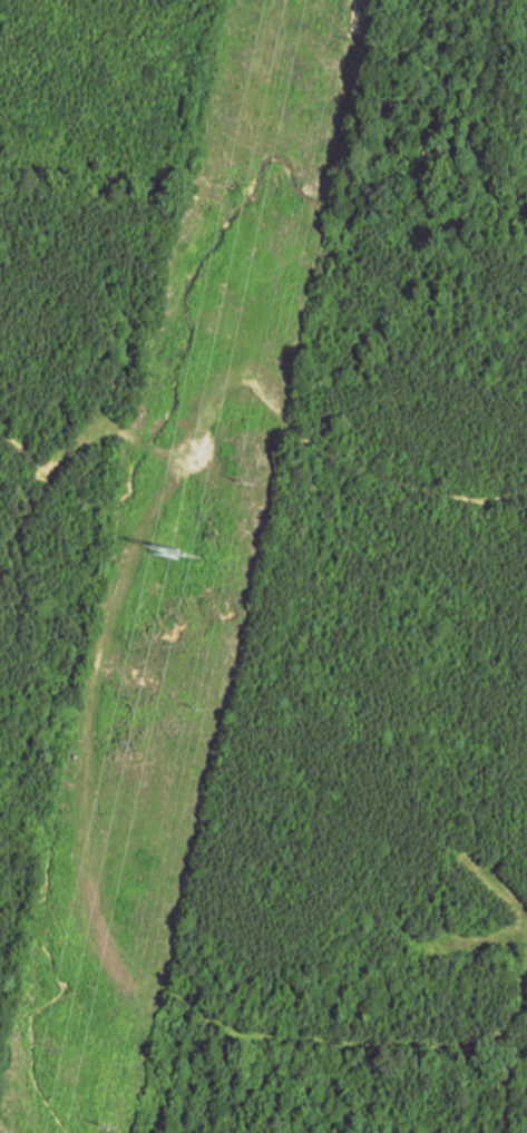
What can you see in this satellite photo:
power tower: (158, 555)

